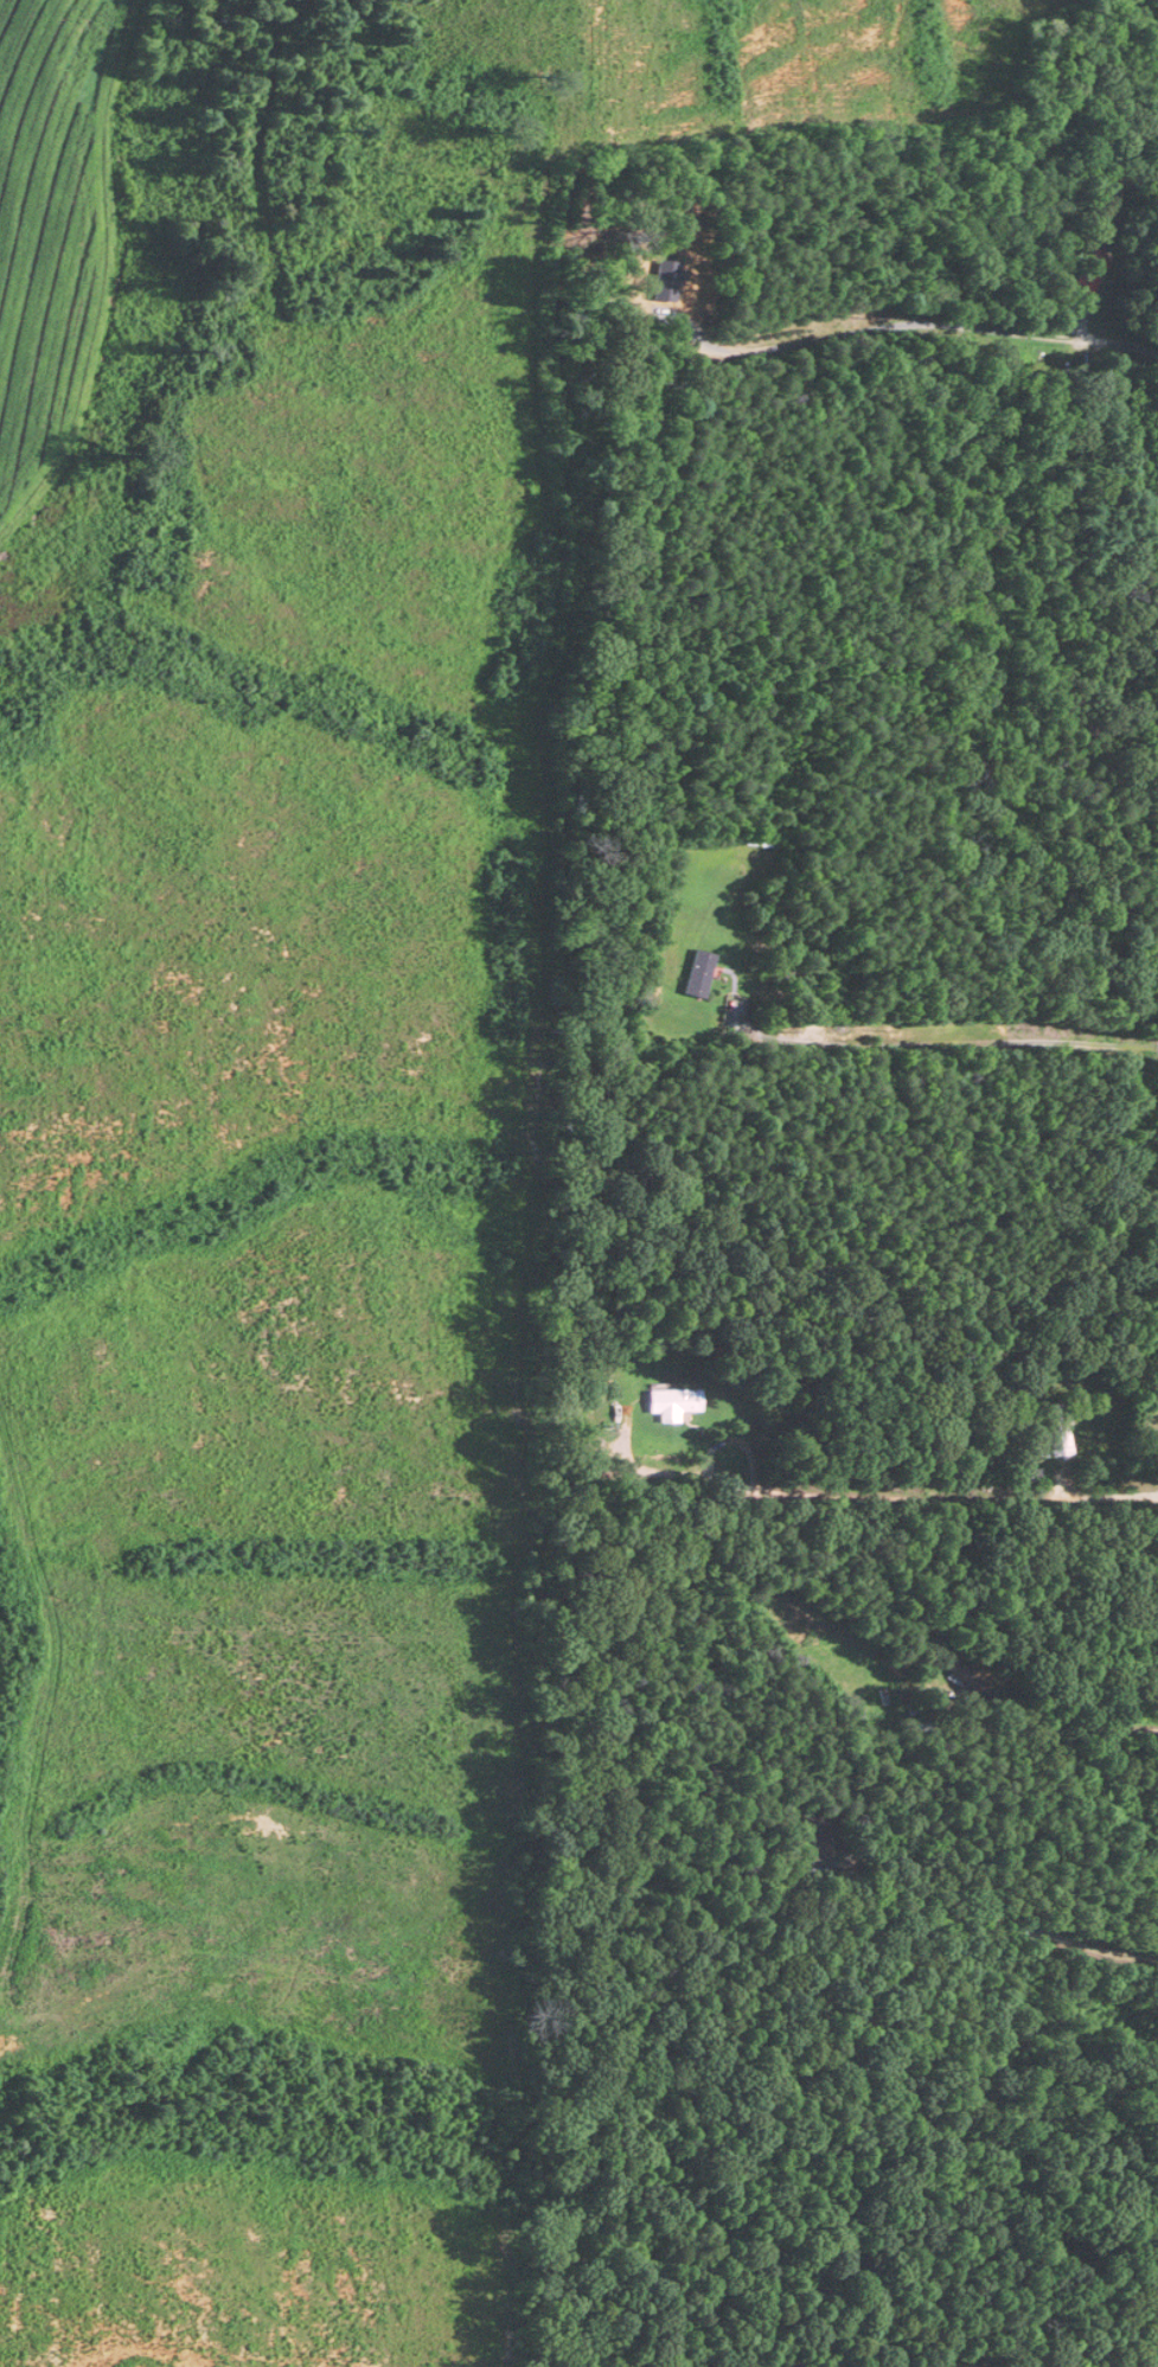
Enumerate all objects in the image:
building: (1121, 185)
building: (1088, 273)
road: (1132, 343)
building: (702, 972)
road: (939, 1041)
building: (674, 1402)
building: (1054, 1429)
road: (941, 1498)
road: (1149, 1731)
building: (818, 1840)

